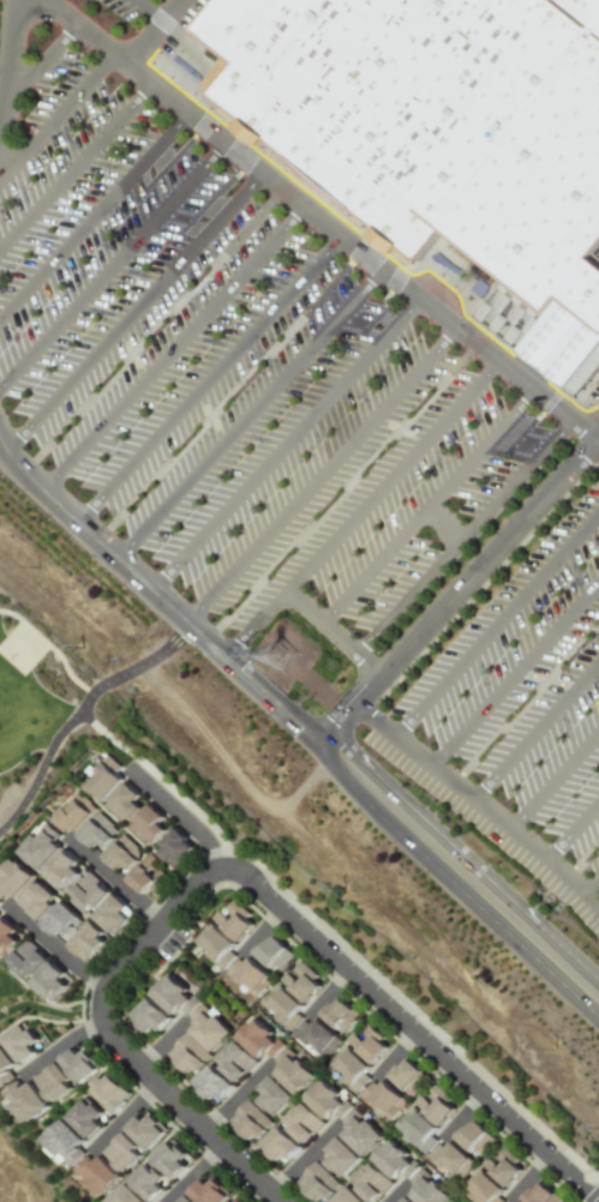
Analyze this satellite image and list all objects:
road: (148, 11)
road: (154, 32)
road: (42, 60)
road: (11, 70)
road: (56, 114)
building: (432, 120)
road: (74, 161)
road: (92, 210)
road: (327, 217)
road: (114, 263)
road: (132, 306)
road: (174, 343)
road: (210, 374)
road: (250, 408)
road: (287, 440)
road: (478, 449)
road: (323, 471)
road: (514, 479)
road: (361, 505)
road: (439, 524)
road: (370, 565)
road: (457, 591)
road: (406, 596)
road: (497, 621)
road: (331, 633)
road: (49, 645)
park: (20, 648)
power tower: (287, 655)
road: (514, 673)
park: (30, 692)
road: (78, 713)
road: (298, 725)
road: (534, 731)
building: (103, 780)
road: (552, 781)
road: (163, 783)
building: (124, 803)
road: (478, 807)
building: (71, 816)
building: (146, 824)
building: (95, 831)
road: (571, 835)
building: (40, 847)
building: (173, 848)
building: (122, 854)
building: (61, 871)
road: (242, 875)
building: (144, 877)
building: (13, 878)
road: (116, 881)
road: (589, 888)
building: (86, 893)
building: (35, 900)
building: (110, 914)
building: (233, 920)
building: (59, 921)
road: (257, 930)
building: (6, 938)
building: (83, 940)
building: (215, 944)
road: (55, 948)
building: (272, 954)
building: (26, 960)
building: (248, 975)
building: (48, 981)
building: (300, 982)
road: (324, 991)
building: (173, 997)
building: (282, 1005)
building: (339, 1015)
building: (148, 1016)
building: (205, 1027)
building: (315, 1036)
building: (258, 1040)
building: (19, 1042)
road: (60, 1042)
road: (160, 1044)
building: (367, 1044)
building: (187, 1053)
road: (393, 1053)
building: (233, 1060)
building: (78, 1064)
building: (5, 1065)
building: (349, 1066)
building: (290, 1071)
building: (405, 1074)
building: (52, 1082)
building: (210, 1084)
building: (107, 1092)
building: (271, 1095)
road: (234, 1098)
building: (382, 1098)
building: (24, 1100)
building: (324, 1101)
building: (433, 1105)
road: (122, 1112)
road: (460, 1114)
building: (83, 1117)
building: (248, 1120)
building: (300, 1123)
building: (144, 1130)
building: (415, 1130)
building: (358, 1134)
building: (474, 1138)
building: (64, 1143)
building: (277, 1143)
building: (122, 1152)
building: (337, 1156)
building: (170, 1158)
building: (450, 1159)
road: (301, 1160)
building: (393, 1160)
building: (502, 1168)
building: (96, 1173)
road: (191, 1173)
road: (526, 1176)
building: (149, 1179)
building: (316, 1182)
building: (369, 1182)
building: (484, 1188)
building: (425, 1189)
building: (210, 1191)
building: (540, 1194)
road: (393, 1195)
building: (346, 1196)
building: (186, 1200)
building: (234, 1200)
building: (405, 1200)
road: (597, 1200)
building: (454, 1201)
building: (514, 1201)

